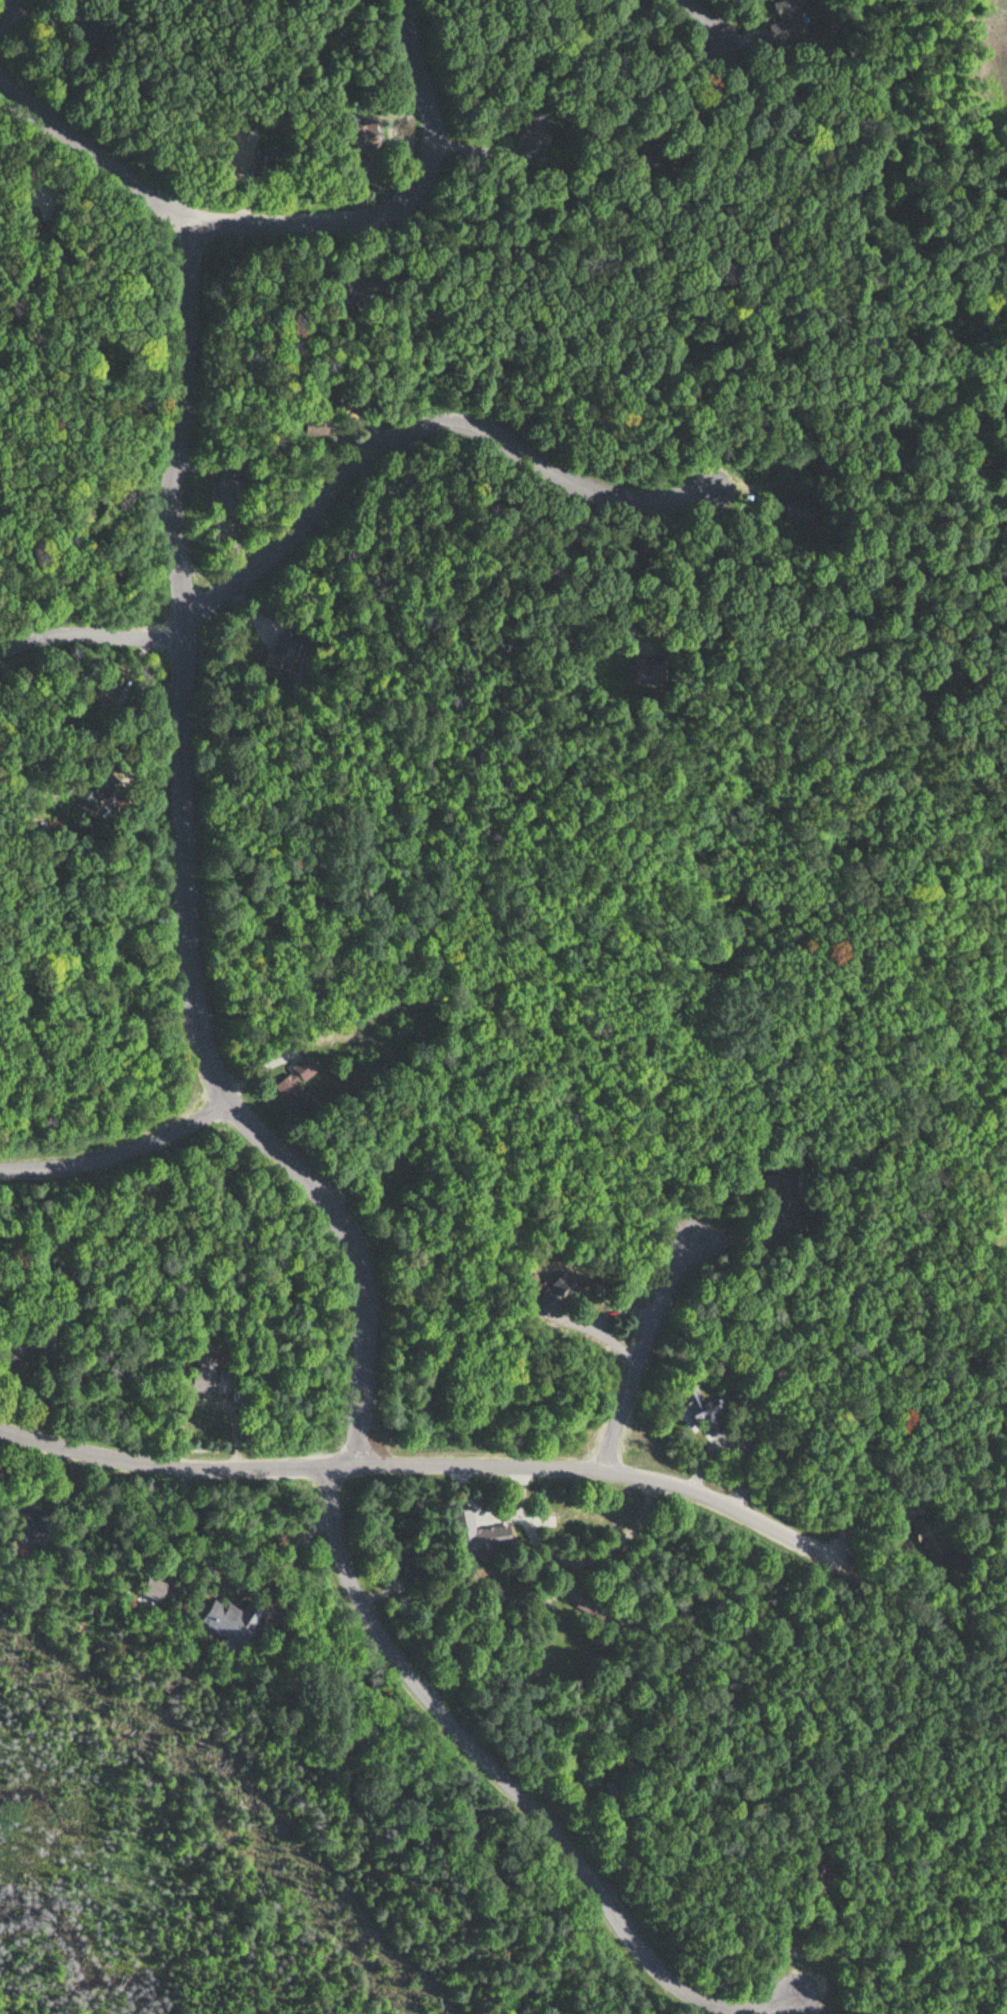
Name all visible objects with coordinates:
road: (3, 5)
building: (789, 18)
road: (703, 36)
building: (79, 42)
building: (358, 136)
building: (536, 144)
road: (392, 205)
building: (351, 290)
road: (454, 424)
building: (224, 492)
building: (799, 512)
road: (88, 631)
building: (278, 652)
building: (634, 671)
building: (97, 695)
road: (183, 765)
building: (83, 795)
building: (297, 1083)
road: (121, 1153)
building: (787, 1184)
building: (789, 1221)
road: (642, 1351)
building: (204, 1380)
building: (704, 1409)
road: (465, 1466)
building: (479, 1533)
building: (405, 1567)
building: (141, 1588)
road: (954, 1620)
building: (224, 1621)
road: (514, 1783)
river: (242, 1789)

